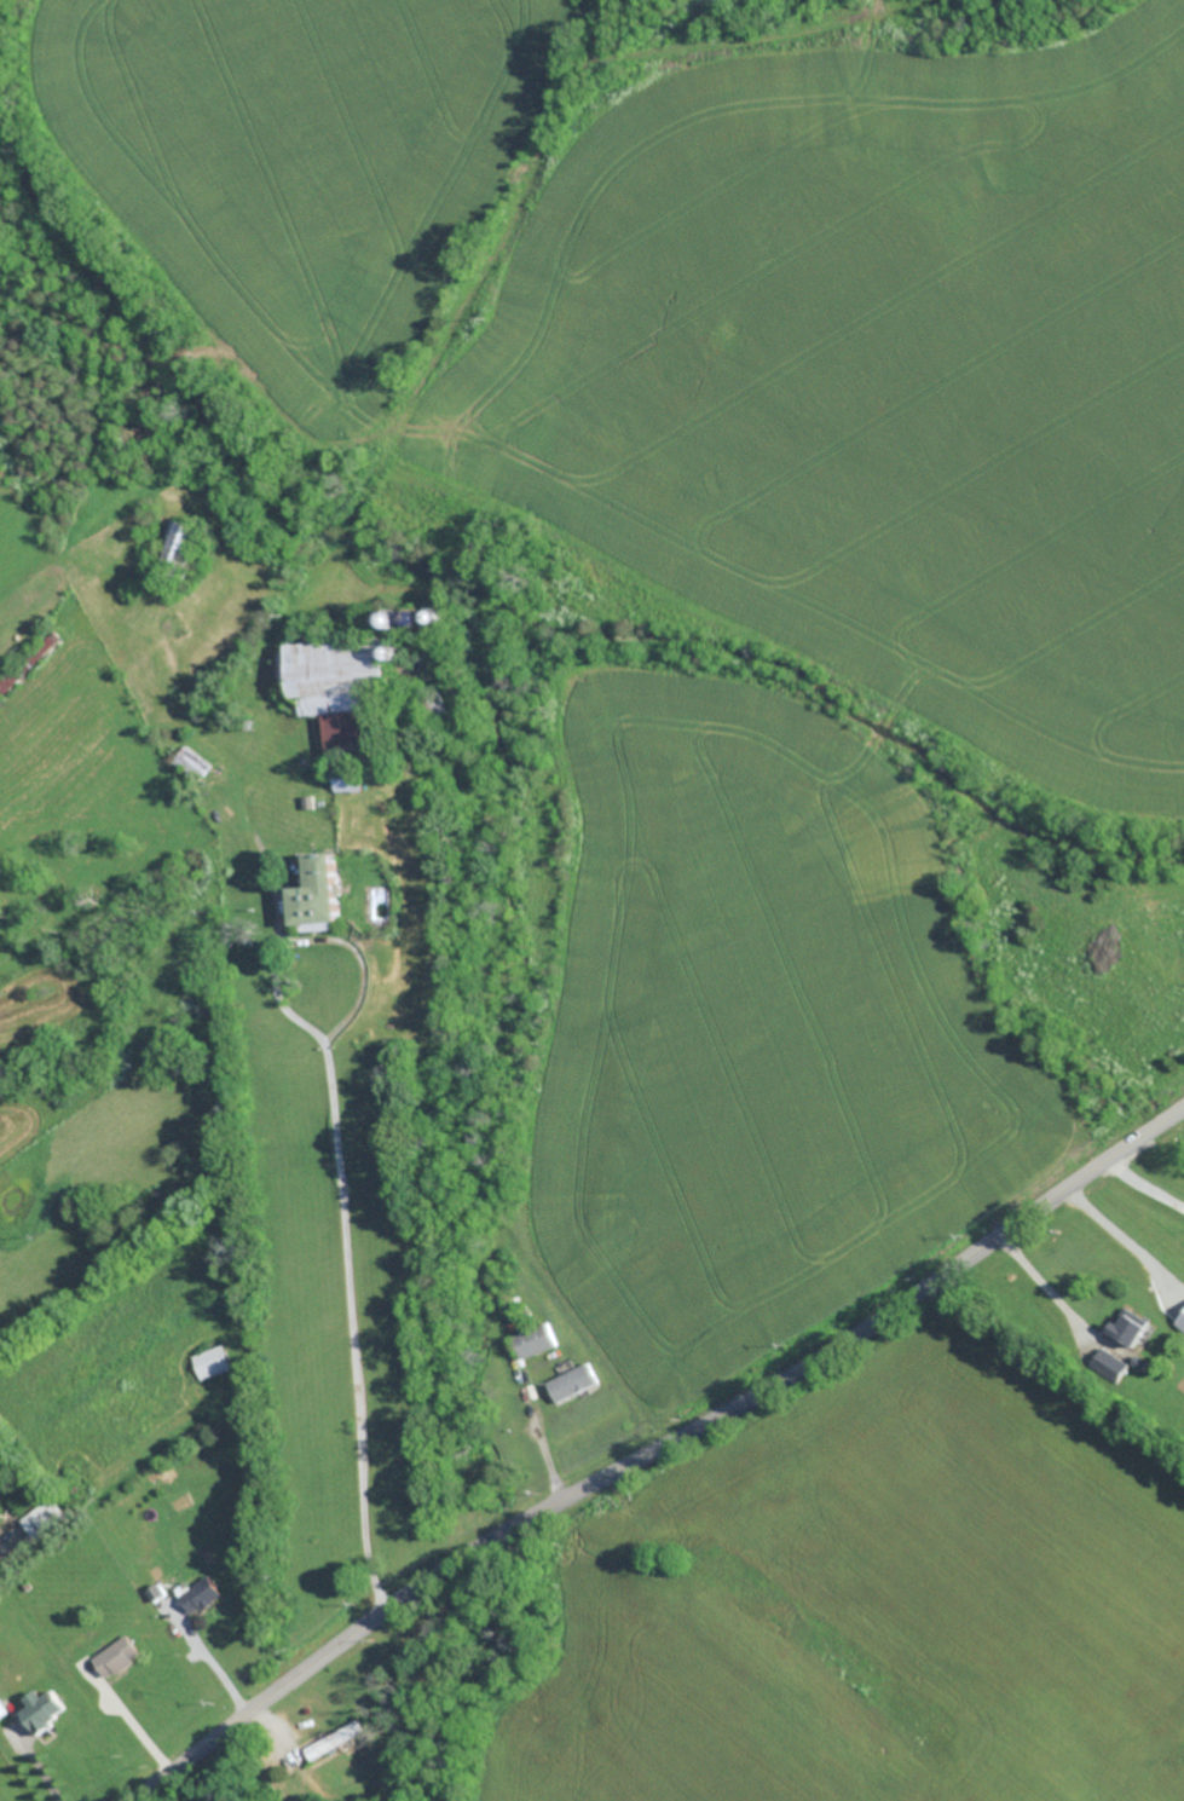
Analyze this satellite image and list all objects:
building: (178, 537)
building: (44, 650)
building: (331, 681)
building: (10, 683)
building: (189, 762)
building: (312, 893)
road: (337, 1179)
road: (1147, 1185)
road: (1122, 1240)
road: (1045, 1285)
building: (1180, 1322)
building: (1125, 1330)
building: (535, 1340)
building: (212, 1363)
building: (1114, 1366)
building: (570, 1383)
road: (547, 1450)
road: (660, 1454)
building: (198, 1595)
building: (116, 1657)
road: (214, 1661)
building: (40, 1708)
road: (133, 1722)
building: (336, 1741)
road: (37, 1766)

